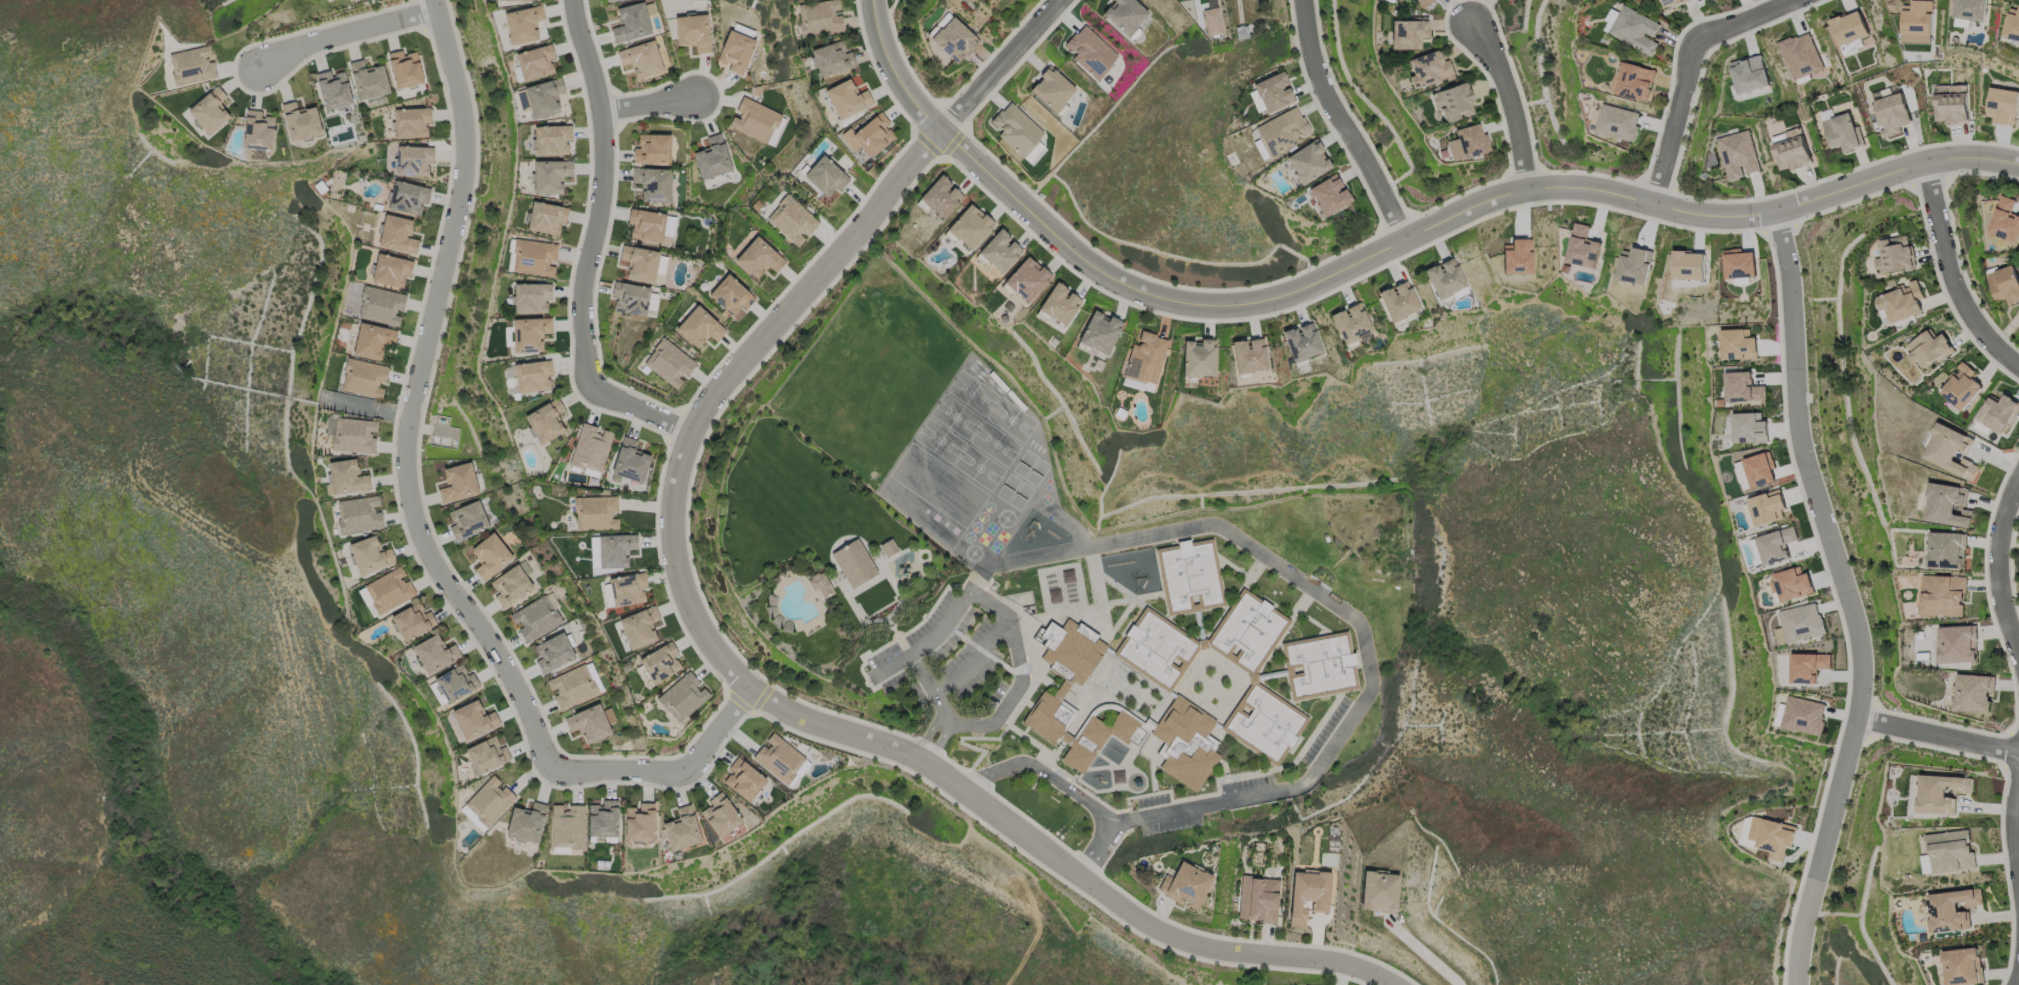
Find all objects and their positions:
building: (520, 0)
building: (1423, 2)
building: (1672, 3)
building: (1969, 9)
building: (1124, 15)
building: (819, 17)
building: (1917, 18)
building: (630, 22)
building: (522, 24)
building: (2012, 26)
building: (1633, 29)
building: (1849, 29)
building: (693, 31)
building: (1409, 33)
road: (341, 34)
building: (954, 39)
building: (736, 50)
building: (1090, 51)
building: (1801, 56)
building: (831, 58)
building: (641, 59)
building: (535, 61)
building: (192, 65)
road: (999, 65)
building: (404, 68)
building: (1429, 69)
road: (1687, 72)
building: (1749, 74)
building: (368, 79)
building: (1631, 80)
building: (333, 89)
building: (1052, 89)
building: (1268, 94)
building: (543, 97)
road: (1508, 97)
building: (847, 98)
road: (657, 101)
building: (1454, 102)
building: (2001, 105)
building: (1951, 108)
building: (209, 110)
building: (1893, 113)
building: (755, 119)
building: (300, 121)
building: (411, 122)
building: (1617, 122)
road: (1343, 123)
building: (1016, 128)
building: (1280, 131)
building: (1843, 132)
building: (869, 134)
building: (552, 139)
building: (1468, 142)
building: (652, 149)
building: (1791, 153)
building: (1738, 154)
building: (712, 157)
building: (414, 160)
building: (1304, 163)
building: (550, 175)
building: (826, 176)
building: (653, 183)
building: (940, 196)
building: (408, 197)
building: (1326, 197)
building: (546, 217)
building: (792, 219)
building: (2005, 219)
building: (646, 225)
building: (969, 225)
building: (397, 234)
road: (591, 246)
building: (1583, 247)
building: (1000, 250)
road: (1381, 250)
building: (1896, 254)
building: (1519, 256)
building: (534, 257)
building: (758, 258)
building: (639, 263)
building: (1739, 264)
building: (1688, 265)
building: (1634, 266)
building: (390, 270)
road: (1952, 275)
building: (1027, 278)
building: (1446, 278)
building: (2005, 283)
building: (730, 295)
building: (531, 297)
building: (630, 298)
building: (1903, 302)
building: (1060, 303)
building: (1396, 303)
building: (381, 305)
building: (1349, 325)
building: (699, 327)
building: (1099, 332)
building: (529, 333)
building: (372, 340)
building: (1299, 343)
building: (1738, 344)
building: (1929, 349)
building: (1144, 357)
building: (1198, 357)
building: (1246, 357)
building: (669, 362)
building: (532, 375)
building: (364, 378)
building: (509, 379)
building: (1962, 386)
building: (1743, 387)
building: (1998, 414)
building: (545, 420)
building: (1749, 427)
building: (352, 434)
building: (590, 448)
building: (1951, 450)
building: (630, 460)
building: (1758, 469)
building: (1740, 475)
building: (345, 477)
building: (458, 482)
building: (1945, 504)
building: (1767, 508)
building: (596, 512)
road: (414, 513)
building: (358, 514)
building: (467, 520)
building: (1775, 544)
building: (615, 549)
building: (1946, 549)
building: (370, 554)
building: (490, 555)
park: (803, 563)
building: (854, 563)
road: (1997, 572)
building: (1191, 574)
building: (1791, 583)
building: (820, 584)
building: (510, 585)
building: (627, 588)
building: (389, 590)
building: (1942, 595)
road: (1847, 598)
road: (1337, 604)
building: (537, 617)
building: (412, 620)
building: (1800, 621)
building: (639, 626)
building: (1249, 629)
road: (927, 642)
building: (1957, 643)
building: (1156, 649)
building: (553, 652)
building: (435, 653)
road: (977, 658)
building: (1922, 658)
building: (660, 662)
building: (1321, 663)
building: (1807, 665)
road: (1022, 673)
building: (456, 683)
road: (932, 686)
building: (1059, 692)
building: (1973, 692)
building: (683, 696)
road: (772, 704)
building: (1802, 715)
building: (474, 719)
building: (1266, 721)
building: (588, 723)
road: (1938, 734)
road: (928, 735)
building: (1187, 740)
road: (940, 743)
building: (486, 754)
building: (778, 757)
road: (994, 772)
building: (744, 779)
building: (1939, 792)
road: (1071, 793)
building: (489, 800)
building: (720, 814)
building: (472, 818)
building: (603, 819)
building: (526, 822)
building: (639, 822)
building: (567, 826)
building: (681, 828)
road: (2014, 832)
building: (1767, 835)
road: (1097, 848)
building: (1948, 852)
building: (1185, 884)
building: (1383, 890)
building: (1311, 894)
building: (1260, 897)
building: (1952, 909)
road: (1426, 954)
building: (1962, 966)
road: (2018, 980)

